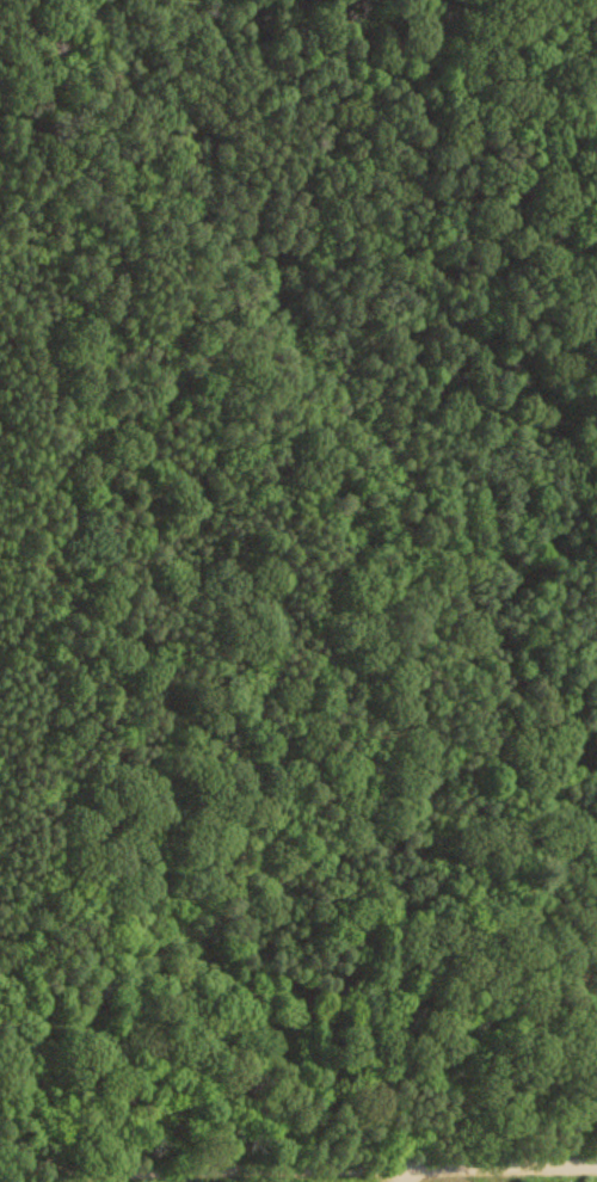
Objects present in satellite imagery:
road: (36, 1159)
road: (36, 1172)
road: (334, 1172)

